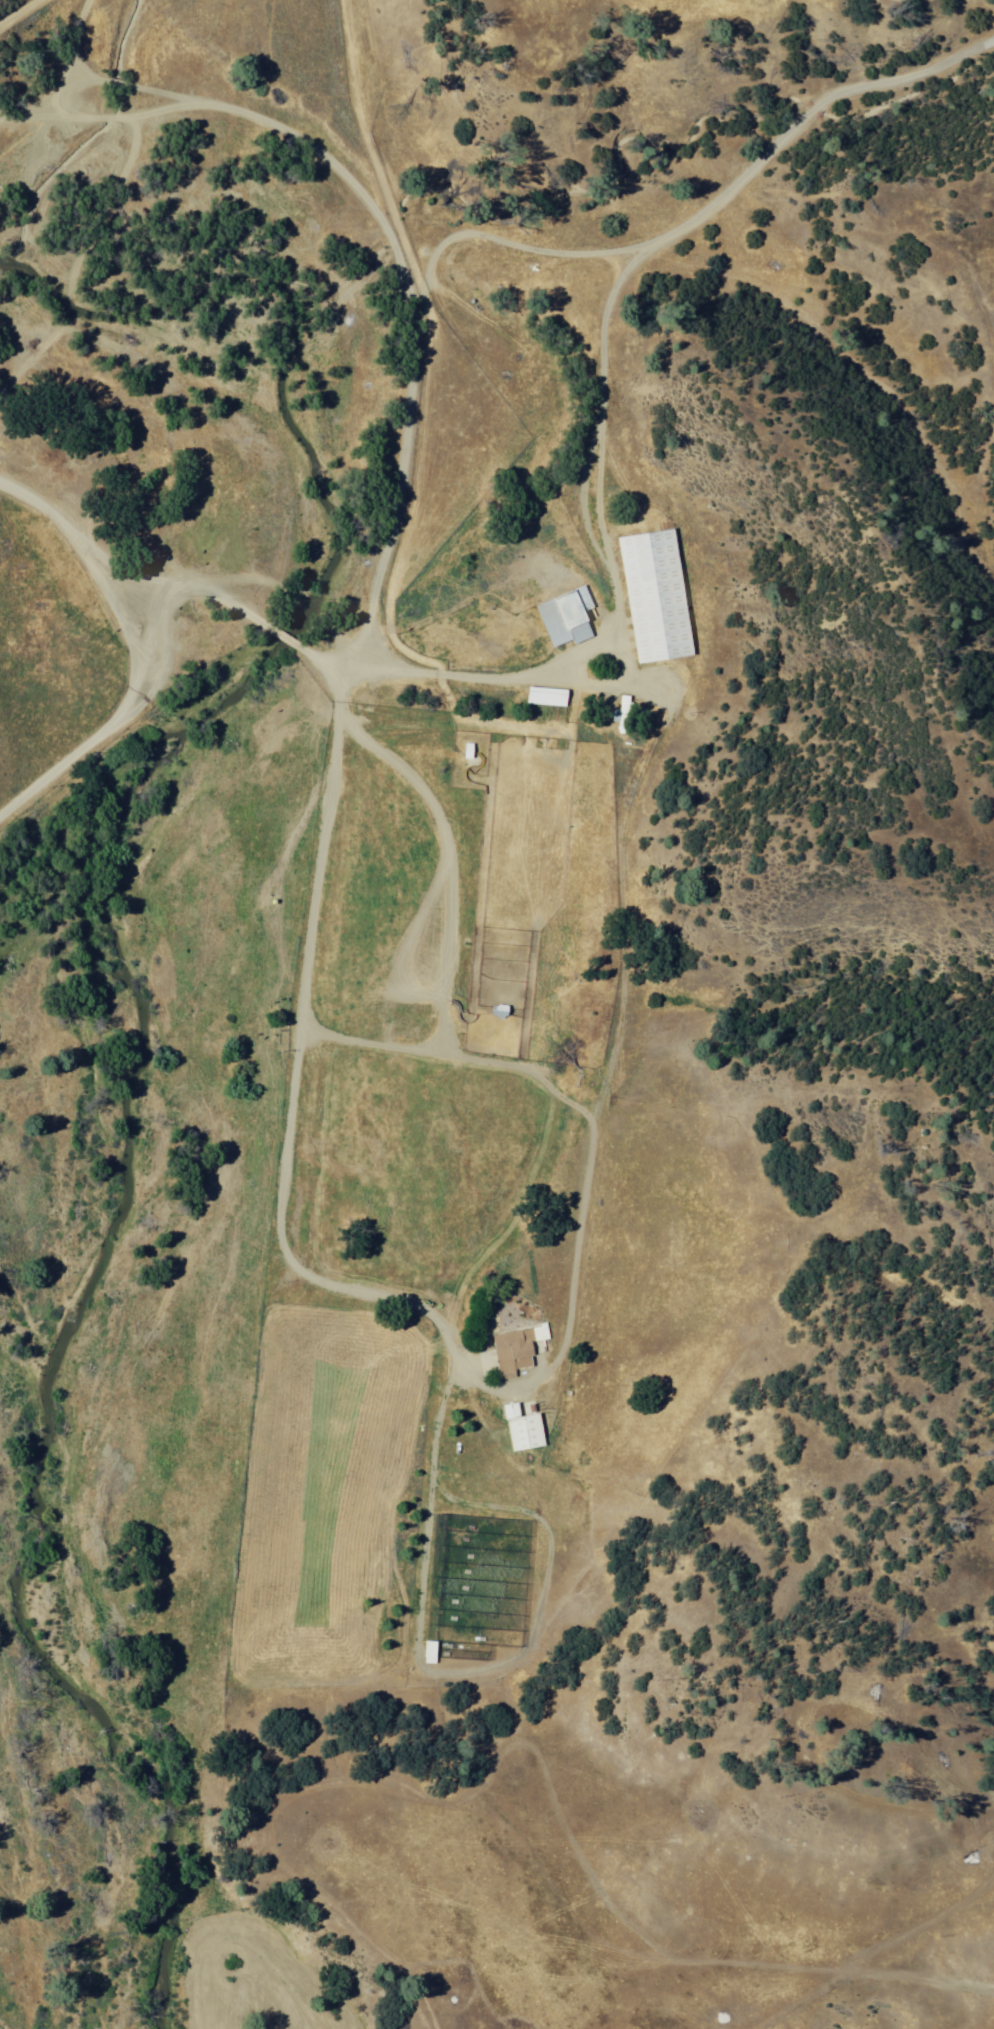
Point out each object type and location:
road: (17, 12)
road: (65, 49)
road: (25, 109)
road: (405, 454)
river: (282, 566)
building: (646, 592)
building: (558, 620)
road: (132, 678)
building: (542, 699)
building: (615, 711)
road: (453, 932)
building: (491, 1008)
road: (313, 1032)
road: (536, 1148)
road: (443, 1344)
building: (512, 1352)
building: (520, 1423)
building: (421, 1648)
river: (97, 1705)

